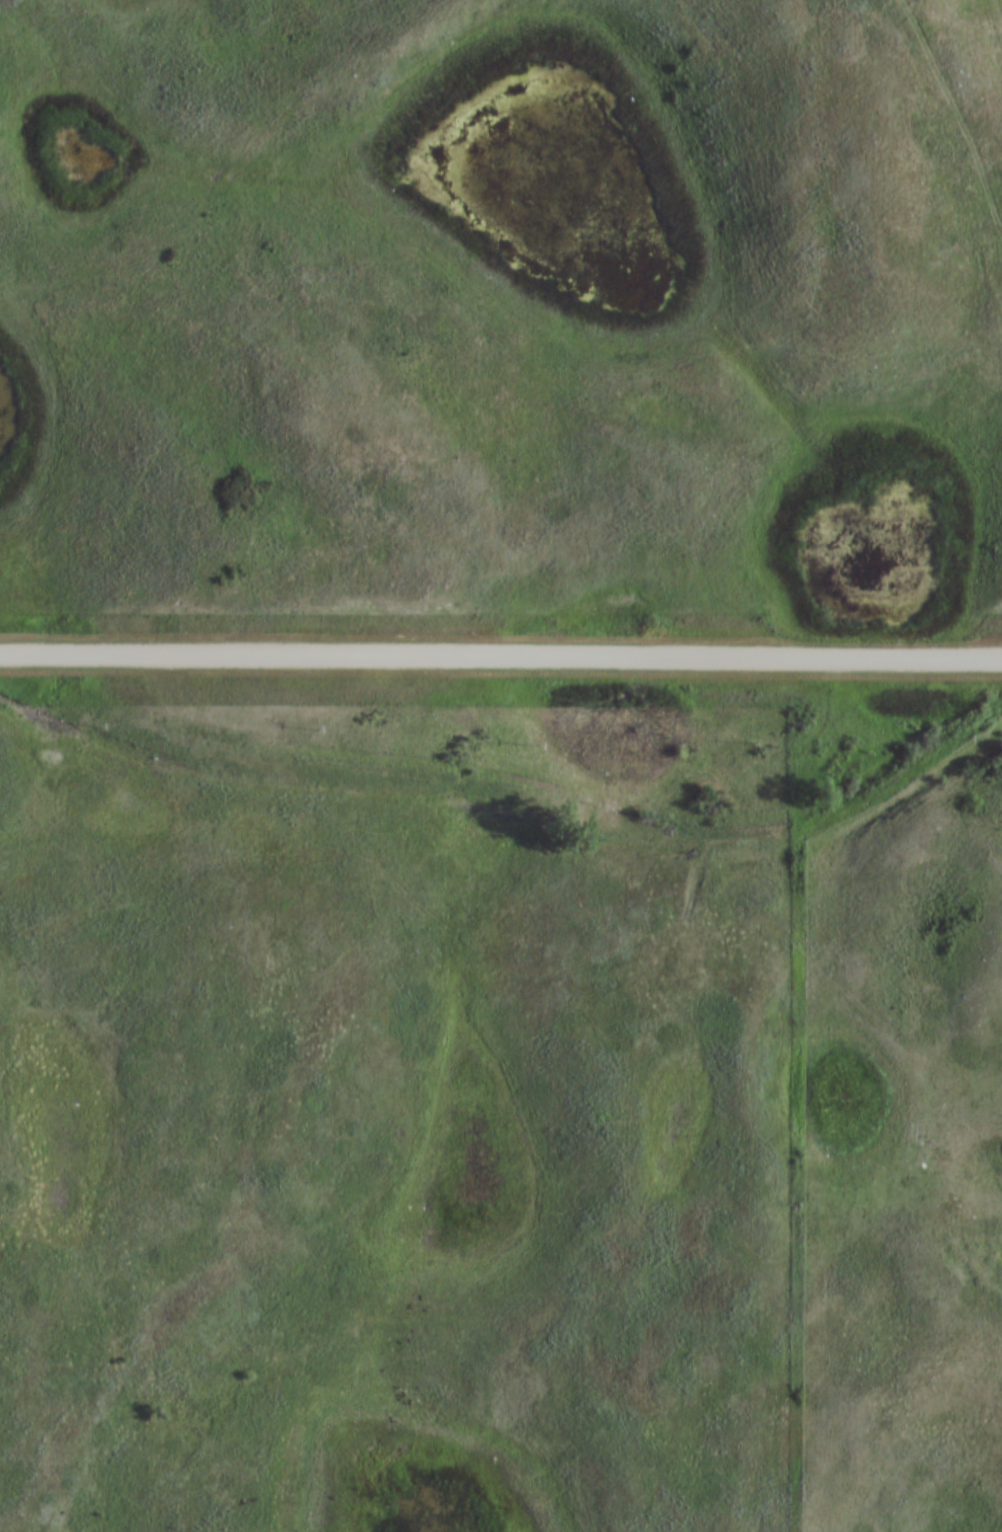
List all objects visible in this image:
road: (958, 112)
road: (501, 654)

